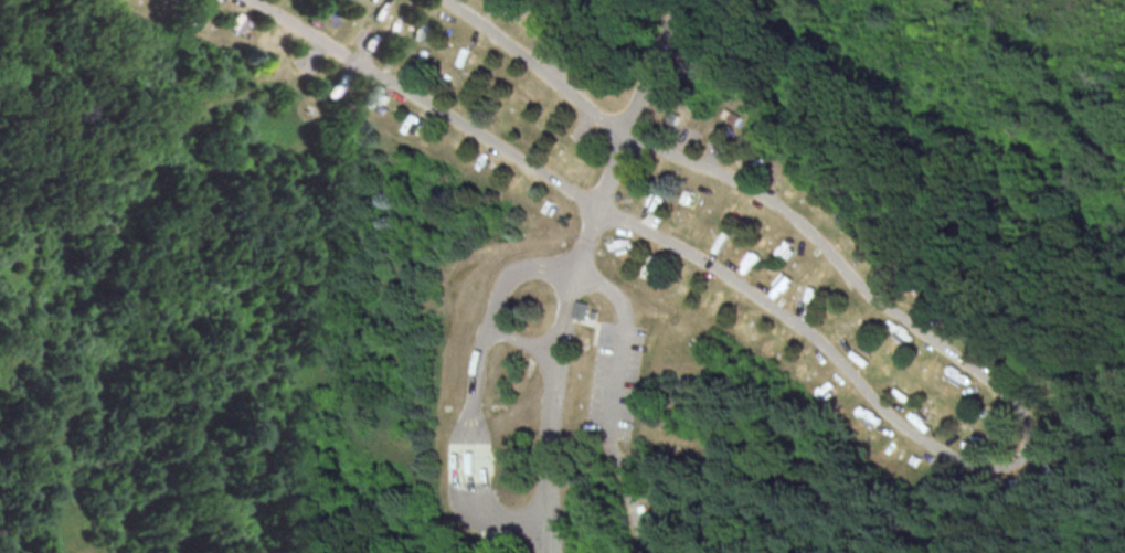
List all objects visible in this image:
road: (486, 13)
park: (528, 20)
building: (587, 35)
parking lot: (560, 70)
building: (676, 118)
building: (734, 121)
road: (623, 138)
road: (683, 147)
road: (713, 159)
building: (632, 183)
park: (562, 276)
road: (491, 299)
building: (580, 311)
road: (620, 341)
parking lot: (614, 380)
building: (1079, 384)
road: (1074, 397)
road: (551, 414)
road: (469, 443)
road: (952, 456)
road: (1102, 467)
road: (622, 471)
building: (643, 504)
building: (648, 514)
road: (637, 532)
road: (0, 542)

